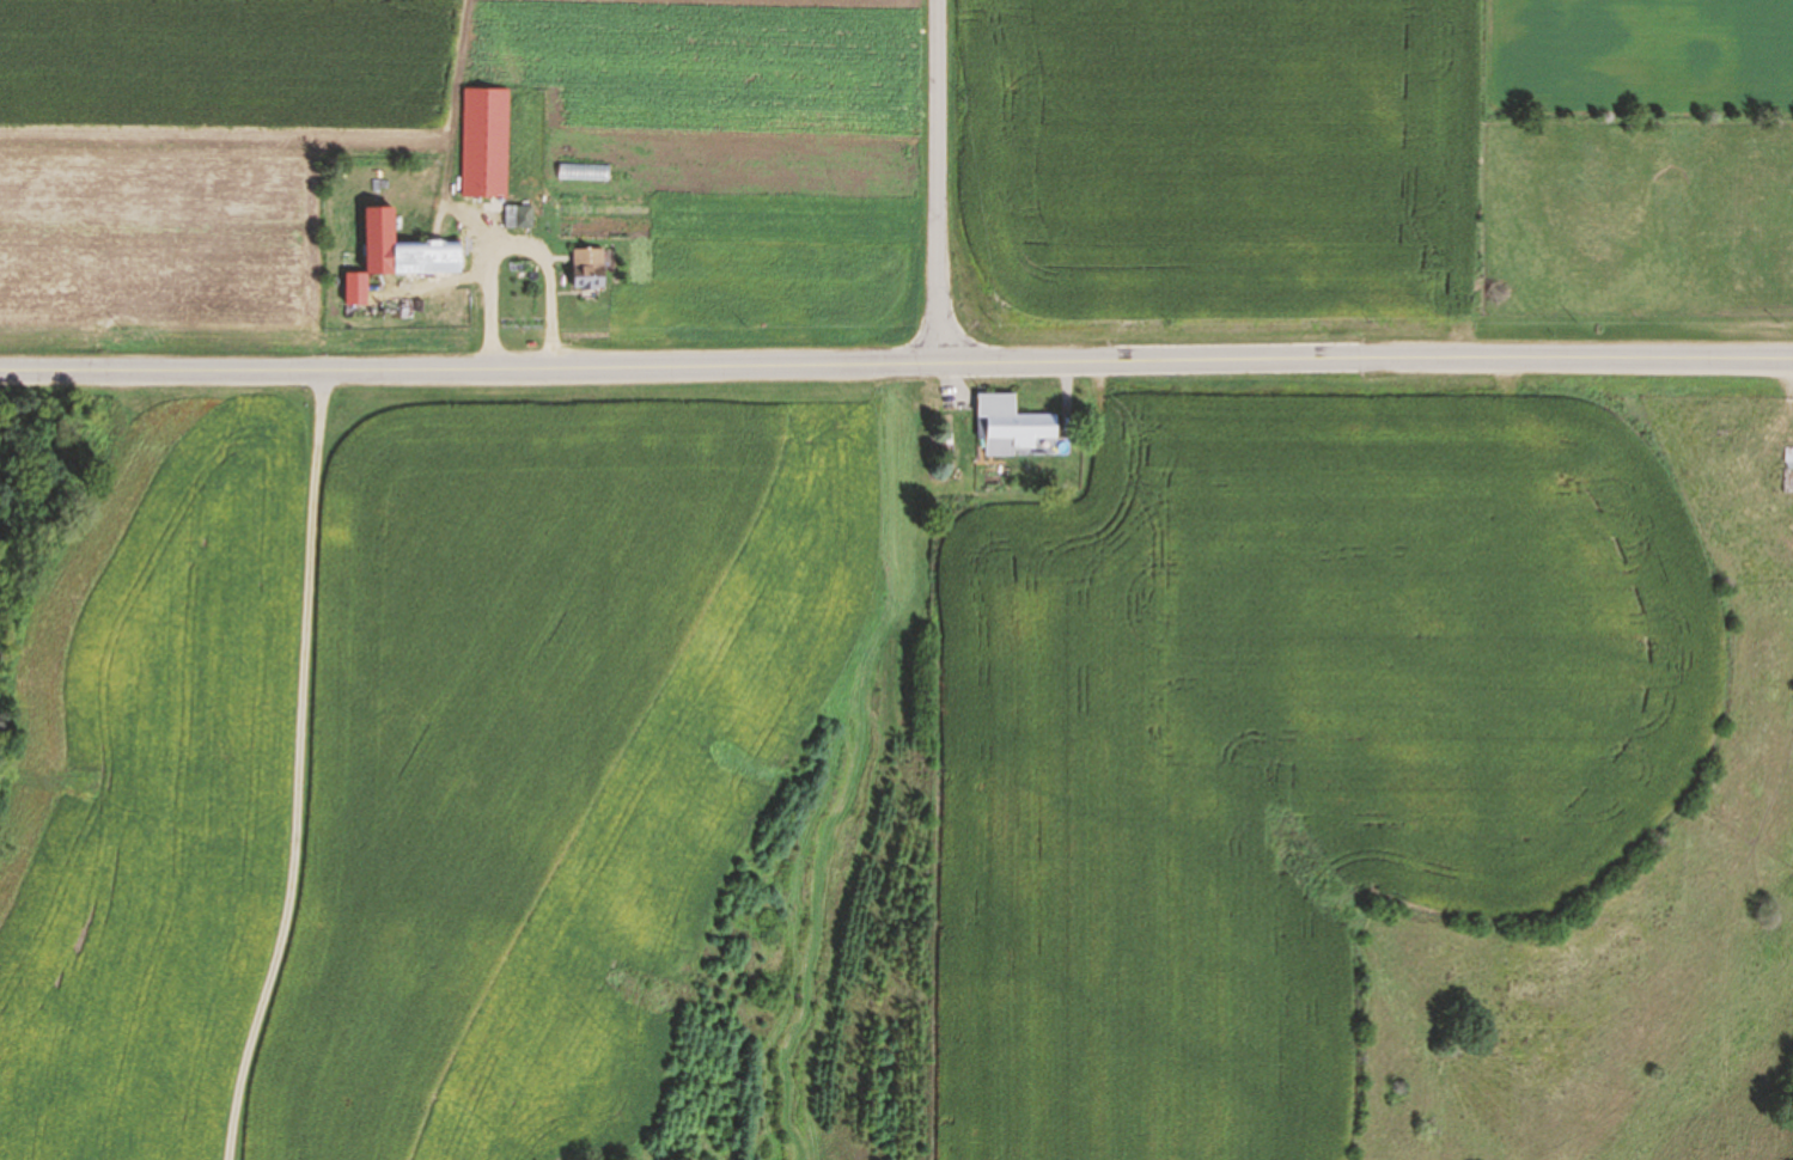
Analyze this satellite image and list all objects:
building: (458, 133)
road: (941, 184)
building: (435, 257)
building: (588, 268)
building: (358, 288)
road: (896, 368)
building: (1013, 425)
building: (1788, 480)
road: (293, 768)

